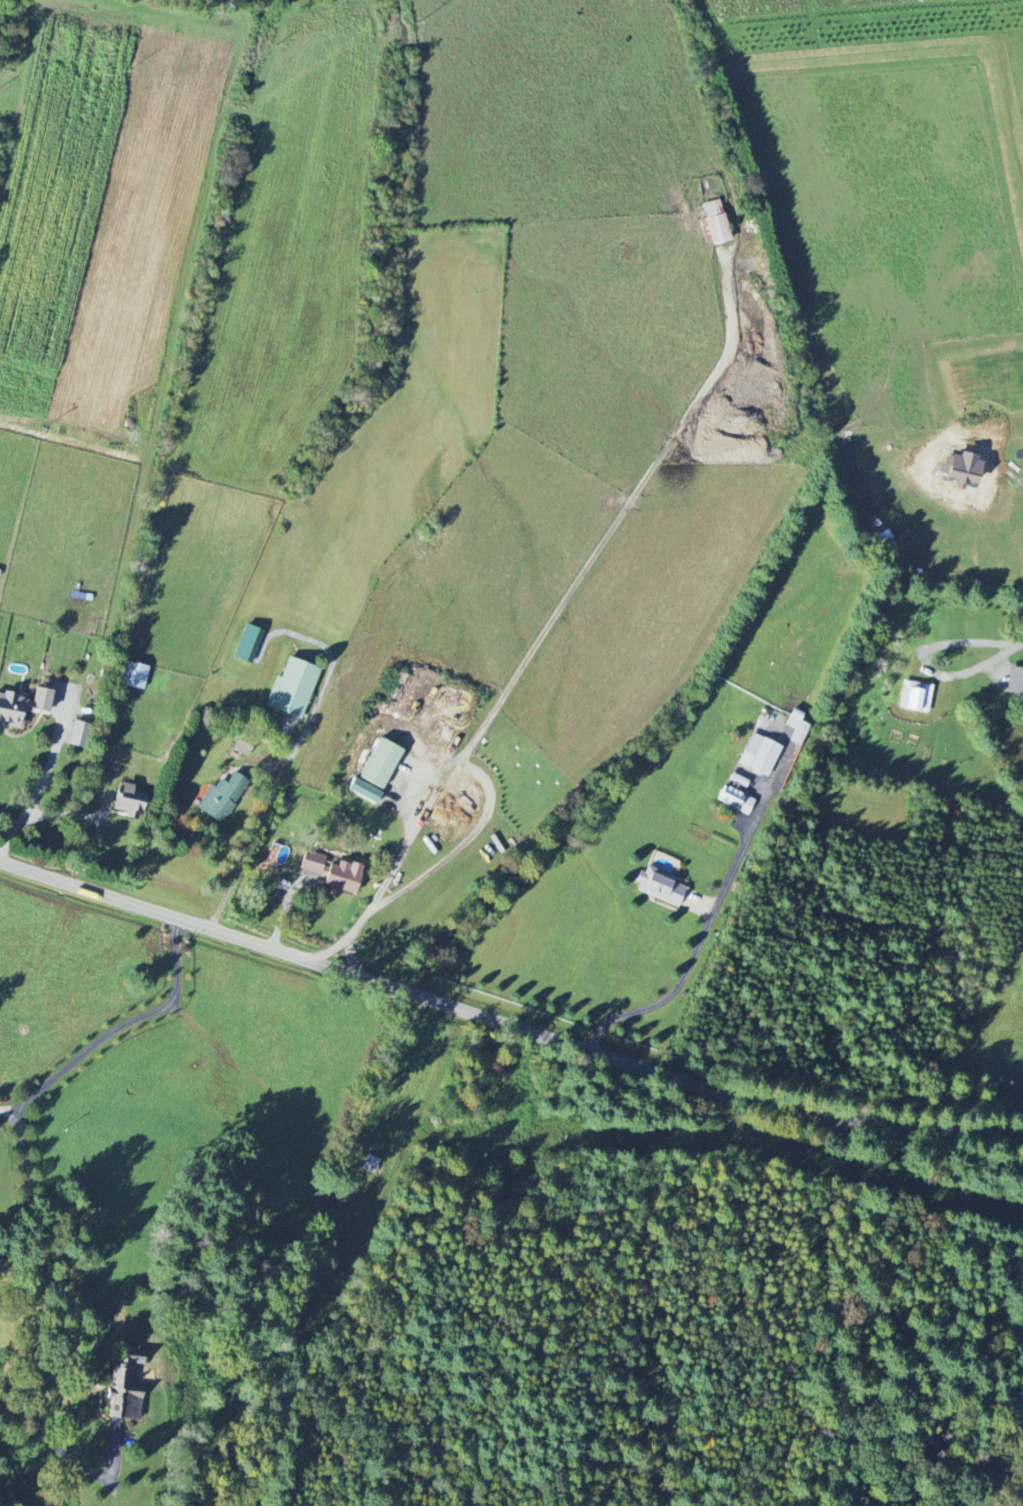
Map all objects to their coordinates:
building: (715, 222)
building: (964, 469)
building: (247, 642)
road: (1022, 644)
road: (928, 660)
building: (133, 676)
building: (1014, 681)
building: (293, 688)
building: (915, 697)
building: (40, 701)
building: (12, 710)
building: (797, 727)
building: (79, 735)
building: (246, 744)
building: (759, 755)
building: (380, 765)
road: (460, 768)
road: (43, 776)
building: (364, 792)
building: (222, 798)
building: (736, 800)
building: (129, 802)
road: (73, 813)
road: (248, 846)
building: (331, 873)
building: (660, 887)
road: (348, 939)
road: (700, 943)
road: (511, 1018)
road: (116, 1028)
building: (371, 1164)
road: (25, 1336)
building: (125, 1382)

